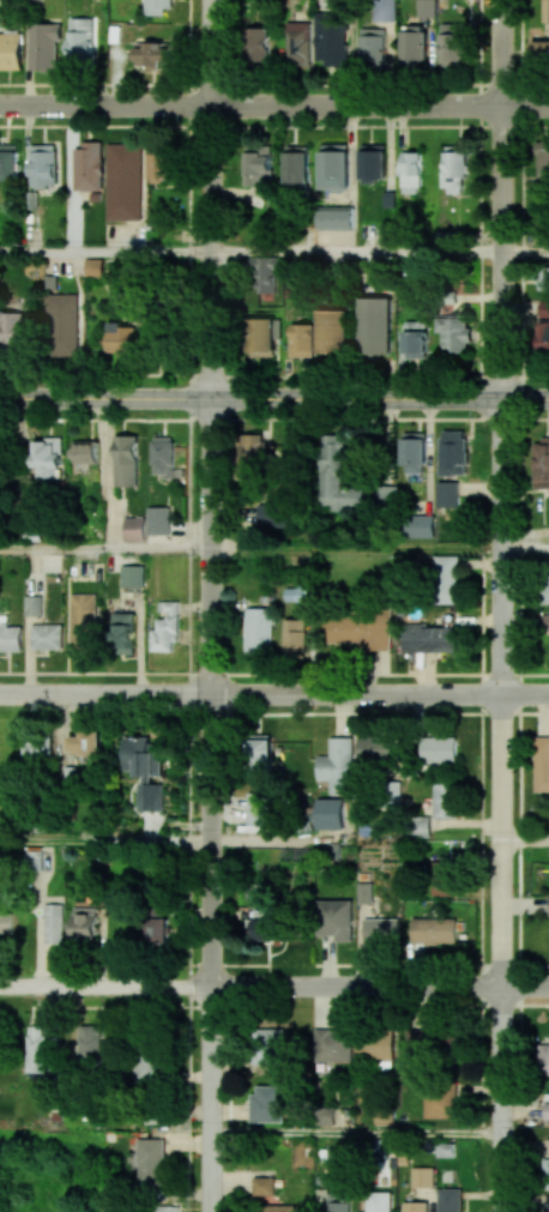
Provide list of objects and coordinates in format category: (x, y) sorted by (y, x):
building: (157, 7)
building: (426, 7)
building: (384, 10)
building: (545, 11)
building: (330, 37)
building: (80, 41)
building: (453, 42)
building: (258, 43)
building: (298, 43)
building: (44, 46)
building: (415, 46)
building: (372, 47)
building: (11, 50)
building: (541, 52)
building: (152, 53)
road: (138, 85)
road: (274, 105)
building: (542, 159)
building: (8, 161)
building: (373, 162)
building: (161, 165)
building: (258, 165)
building: (334, 165)
building: (43, 167)
building: (89, 167)
building: (296, 167)
building: (454, 170)
building: (410, 171)
building: (123, 181)
road: (212, 199)
road: (502, 199)
building: (336, 217)
road: (105, 253)
road: (357, 253)
road: (525, 253)
building: (93, 267)
building: (264, 273)
building: (543, 278)
building: (64, 325)
building: (375, 325)
building: (11, 326)
building: (543, 326)
building: (333, 331)
building: (453, 333)
building: (263, 336)
building: (121, 337)
building: (416, 338)
building: (301, 339)
road: (273, 378)
road: (274, 398)
building: (253, 448)
building: (85, 451)
building: (414, 452)
building: (452, 452)
building: (47, 457)
building: (163, 457)
building: (126, 463)
building: (541, 464)
building: (337, 475)
building: (447, 494)
building: (272, 515)
building: (158, 520)
building: (420, 525)
building: (134, 529)
road: (357, 548)
road: (525, 548)
road: (105, 549)
building: (132, 575)
building: (447, 579)
building: (547, 580)
building: (32, 604)
building: (83, 621)
building: (545, 621)
building: (167, 627)
building: (258, 628)
building: (360, 631)
building: (125, 633)
building: (47, 635)
building: (295, 635)
building: (10, 638)
building: (429, 638)
road: (274, 694)
building: (88, 742)
building: (374, 749)
building: (439, 749)
building: (37, 750)
building: (261, 754)
building: (542, 764)
building: (337, 765)
building: (145, 770)
building: (445, 801)
road: (212, 804)
road: (502, 806)
building: (259, 808)
building: (418, 826)
road: (525, 840)
road: (105, 842)
building: (441, 887)
road: (40, 912)
building: (334, 918)
building: (53, 922)
building: (6, 923)
building: (84, 924)
building: (157, 927)
building: (266, 927)
building: (381, 928)
building: (434, 929)
road: (105, 987)
road: (380, 987)
building: (91, 1042)
building: (420, 1043)
building: (333, 1044)
building: (376, 1044)
building: (269, 1045)
building: (37, 1049)
building: (543, 1057)
building: (151, 1065)
building: (269, 1103)
building: (441, 1104)
building: (545, 1110)
building: (325, 1116)
road: (356, 1132)
road: (525, 1133)
building: (445, 1150)
building: (150, 1160)
building: (422, 1176)
building: (264, 1186)
building: (448, 1200)
building: (378, 1201)
building: (339, 1202)
building: (547, 1202)
building: (415, 1206)
building: (274, 1207)
building: (165, 1208)

